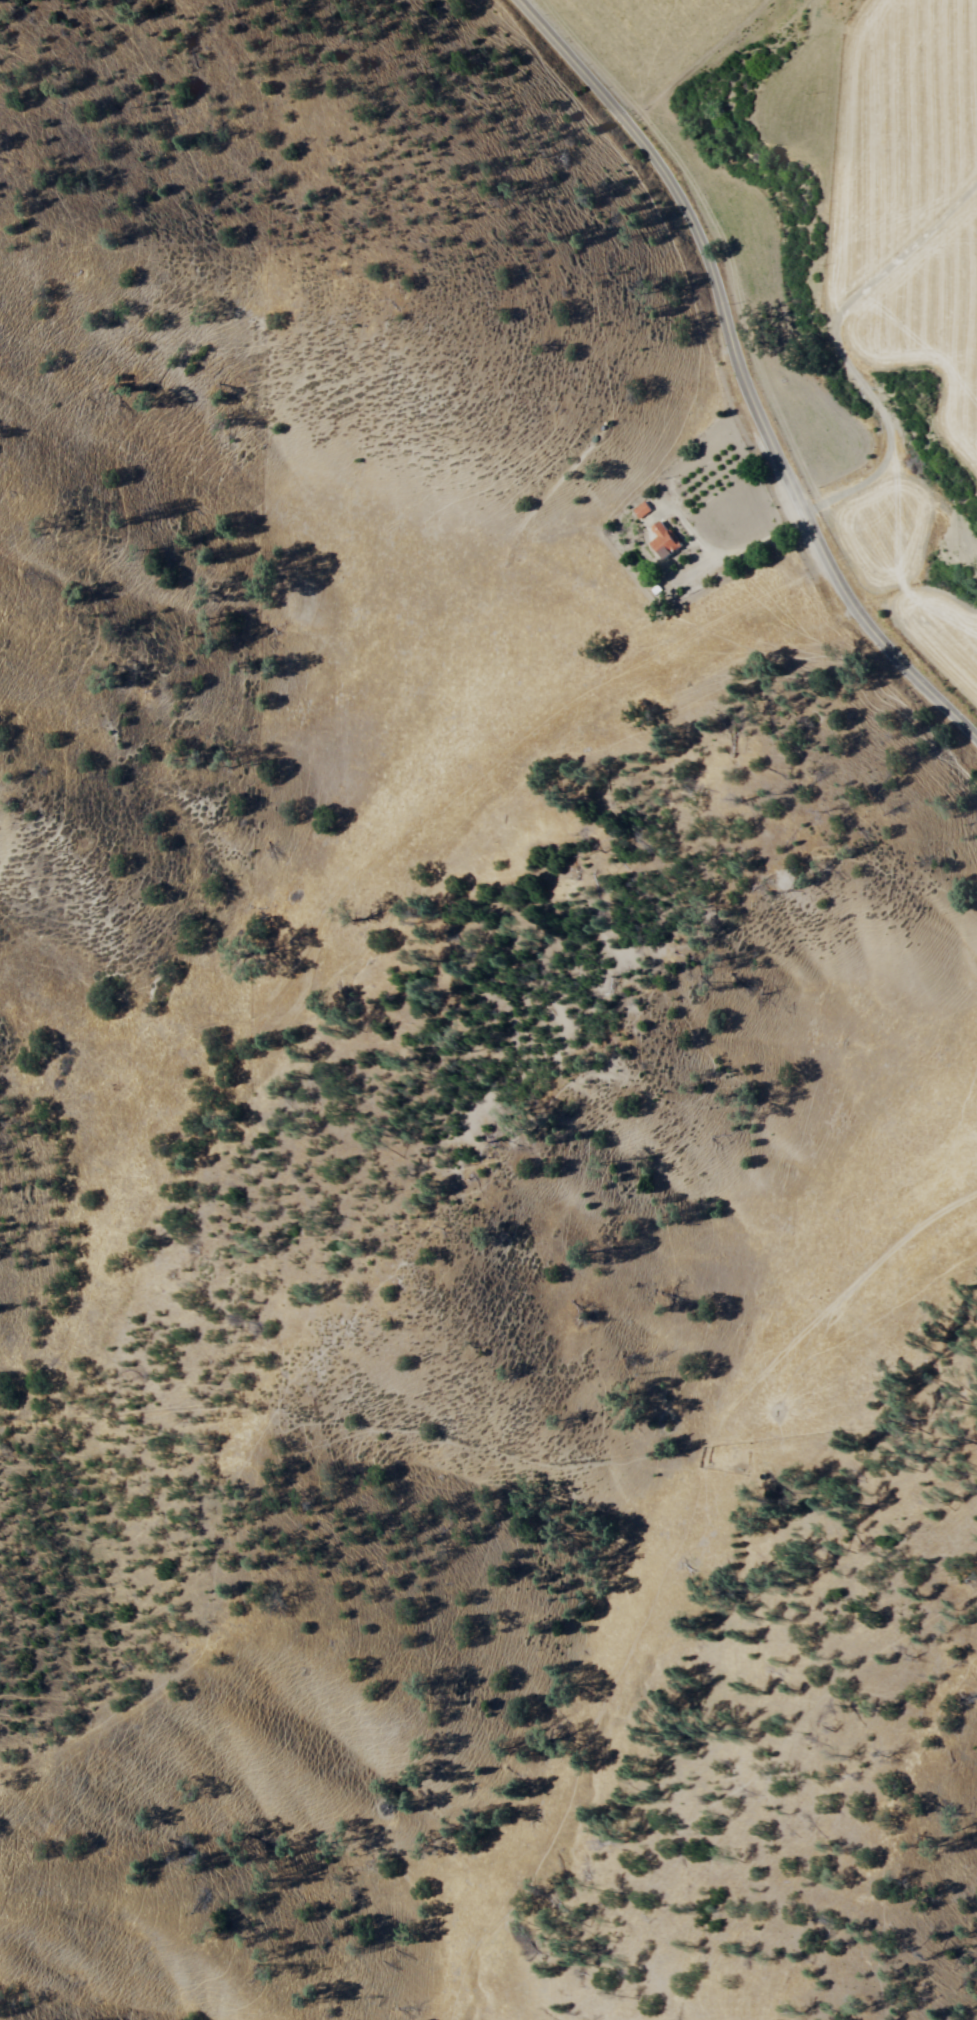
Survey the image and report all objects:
crop: (839, 259)
road: (839, 350)
road: (740, 370)
building: (631, 507)
building: (644, 510)
building: (662, 540)
road: (519, 750)

